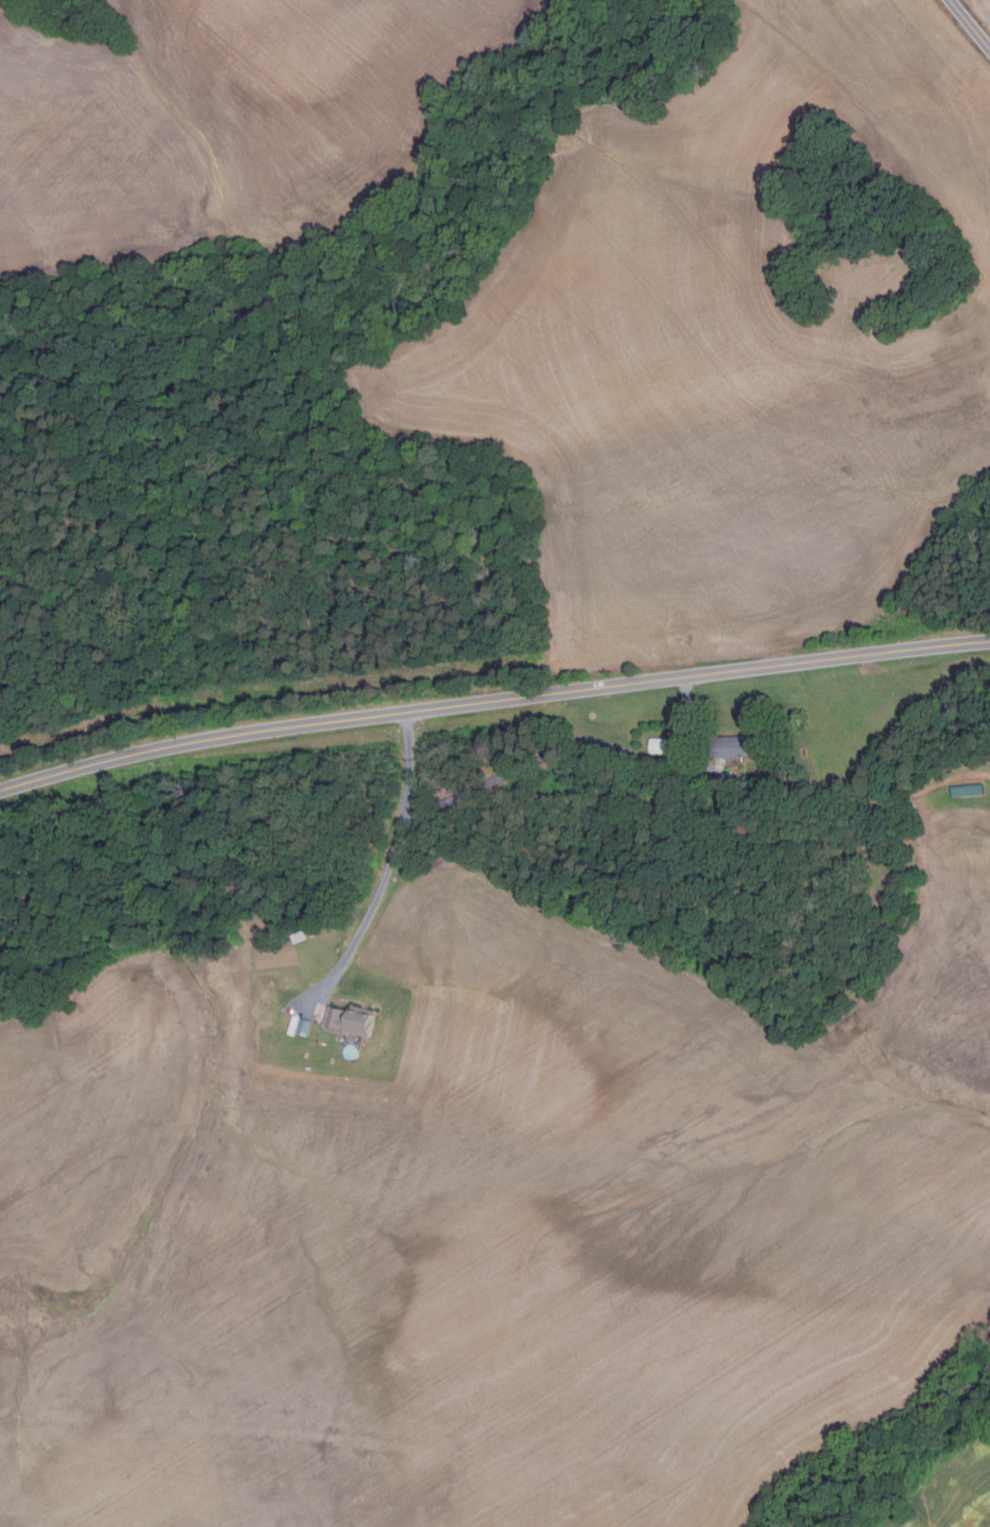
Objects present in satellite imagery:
crop: (981, 10)
road: (969, 24)
crop: (221, 122)
crop: (733, 338)
road: (491, 699)
road: (687, 724)
building: (660, 743)
building: (737, 745)
building: (967, 788)
road: (388, 869)
building: (298, 936)
building: (351, 1019)
building: (304, 1026)
crop: (487, 1227)
crop: (943, 1492)

